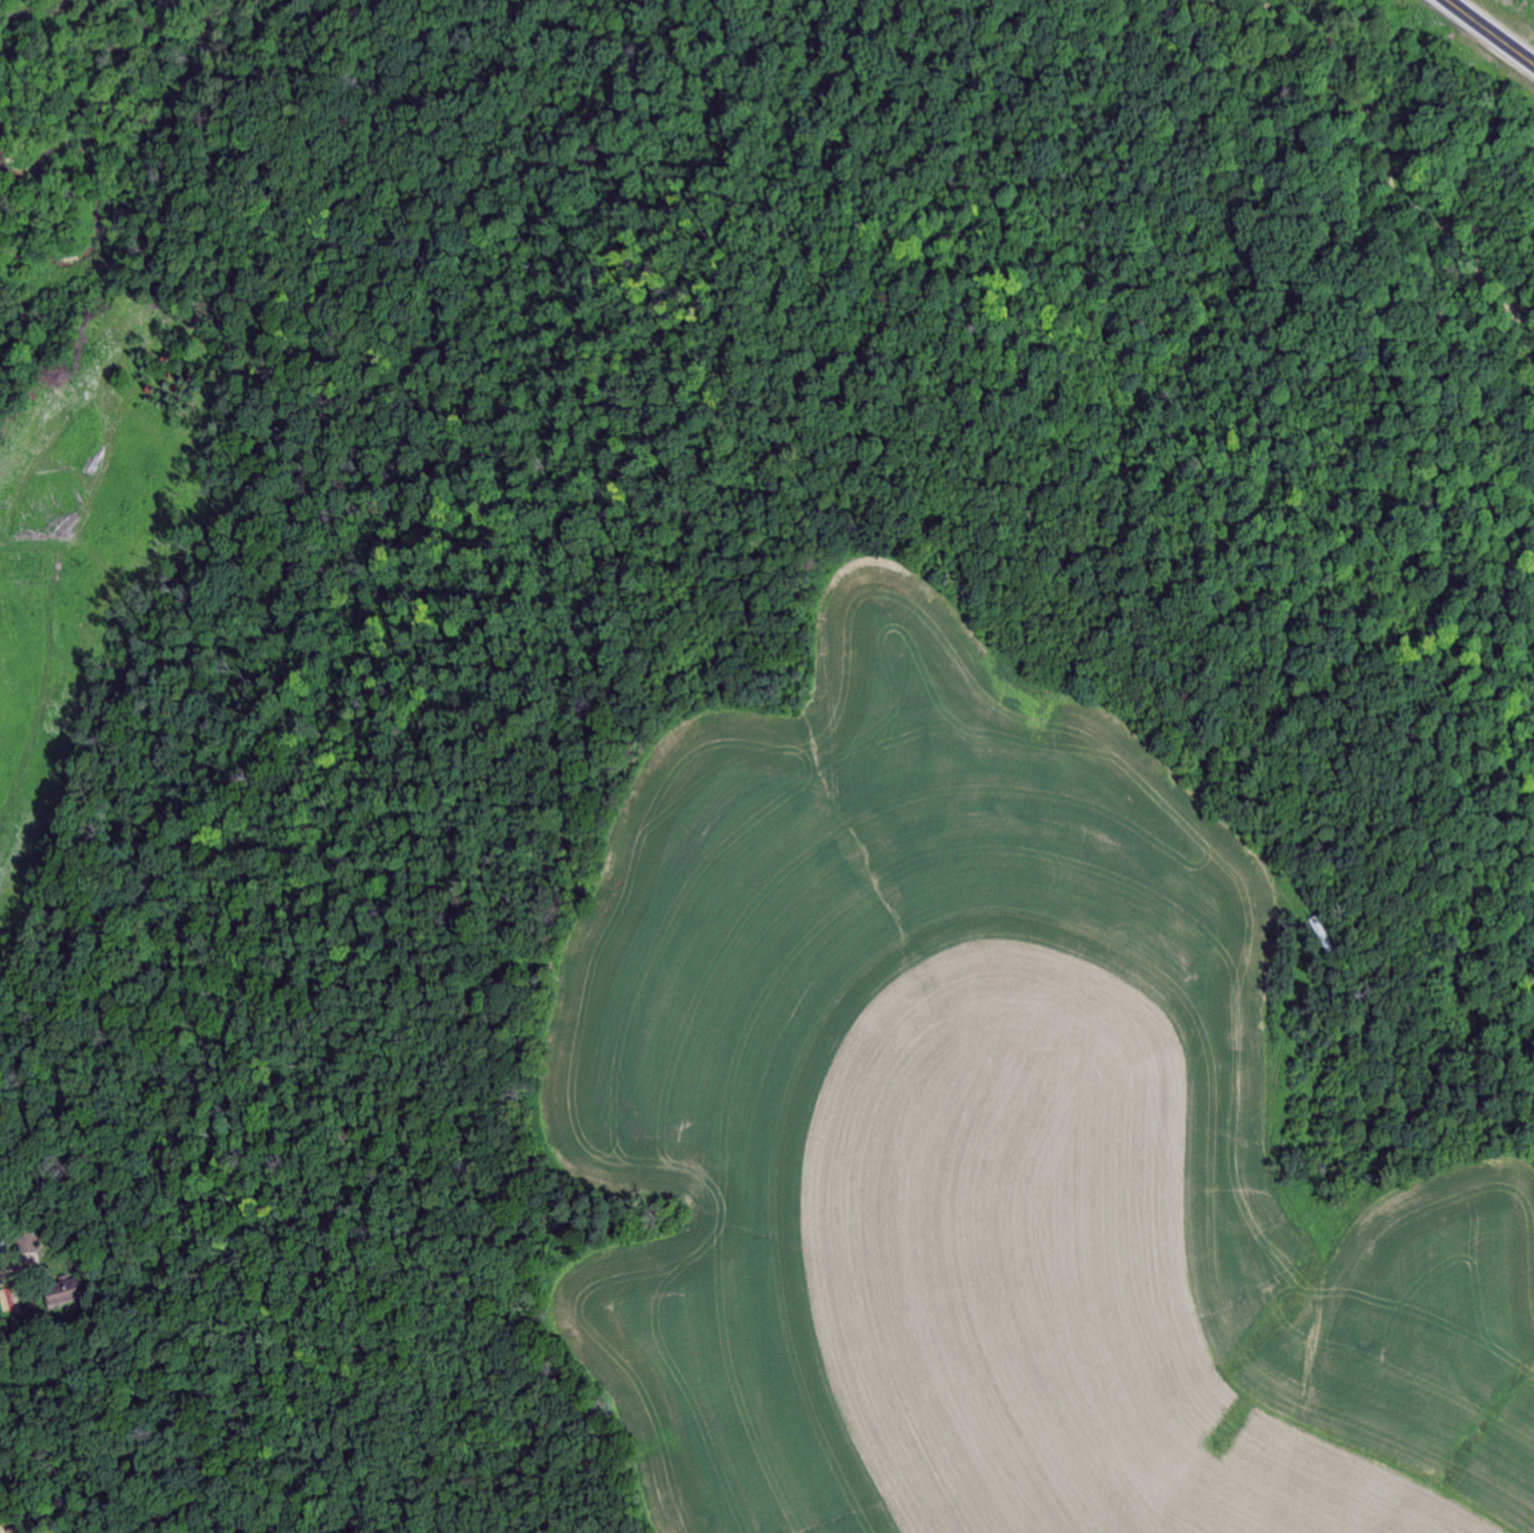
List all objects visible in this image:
road: (1491, 31)
building: (1324, 937)
building: (29, 1243)
building: (66, 1293)
road: (425, 1341)

